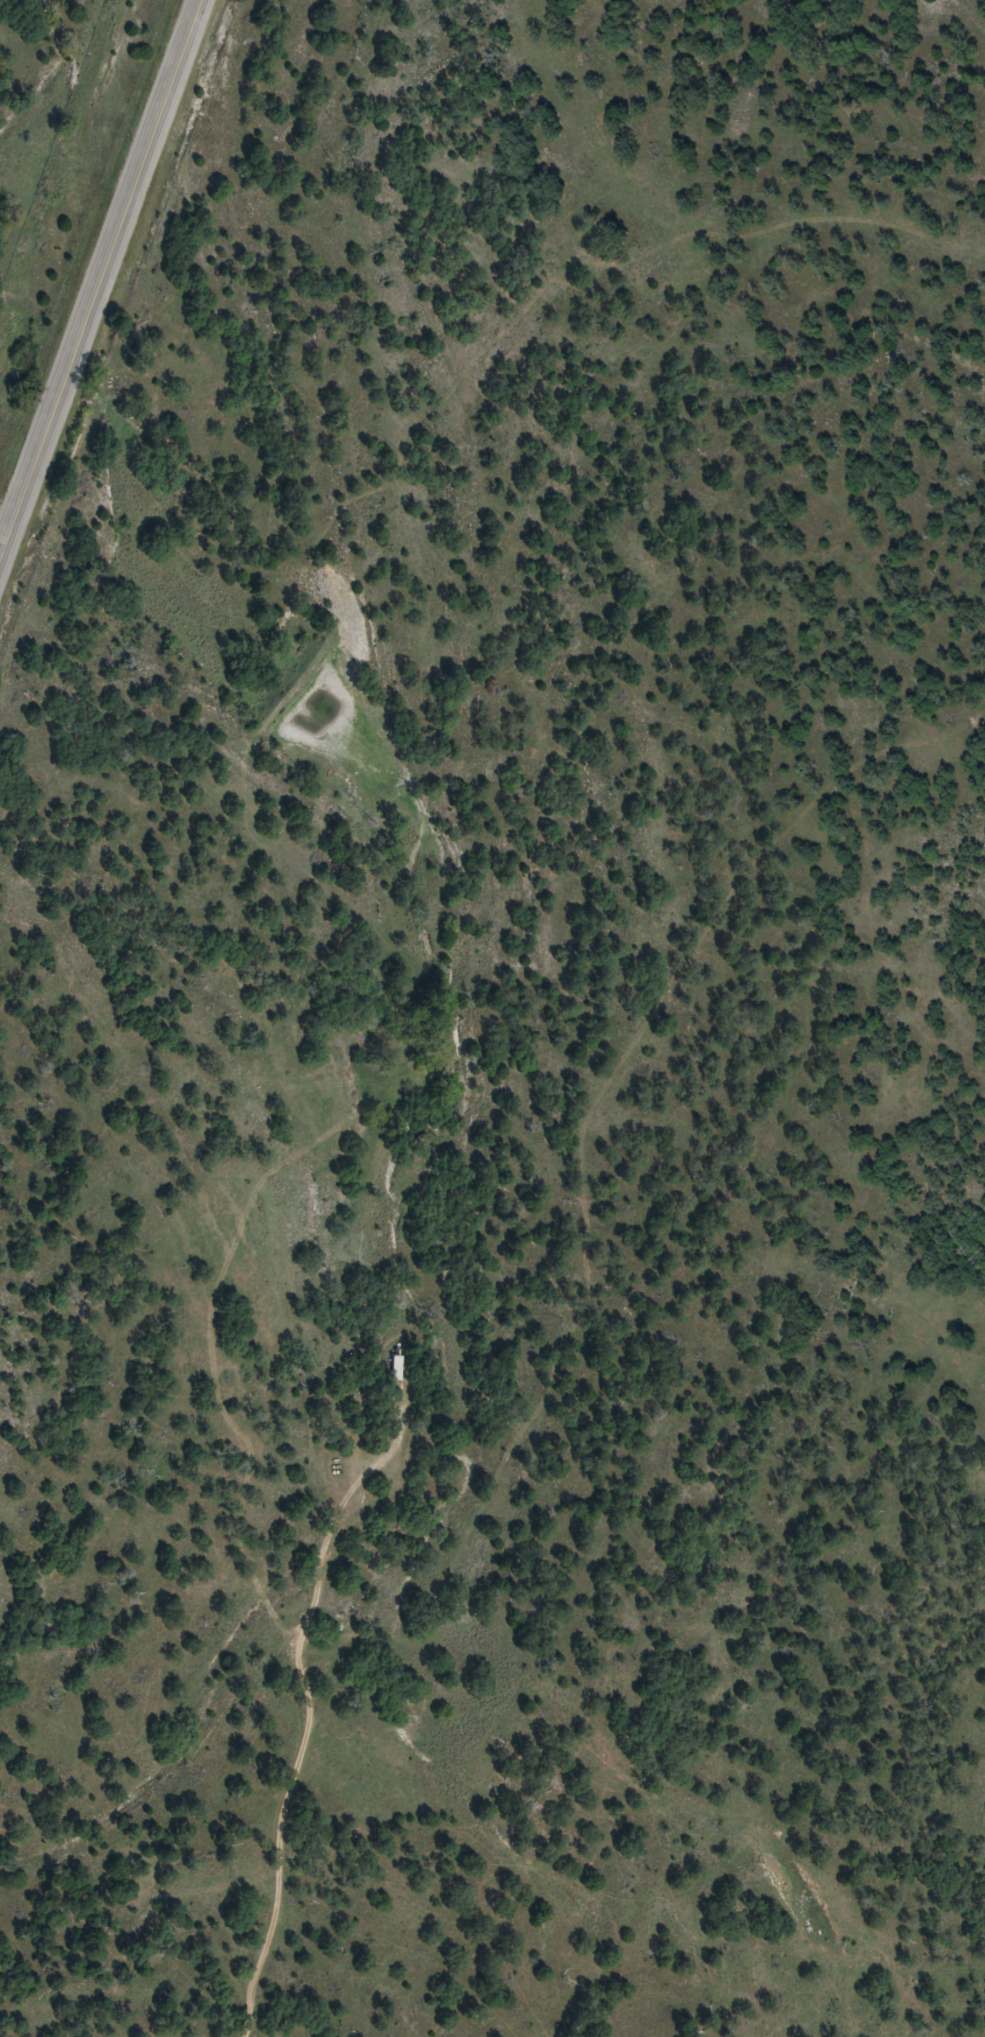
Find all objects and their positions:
road: (99, 273)
building: (399, 1369)

